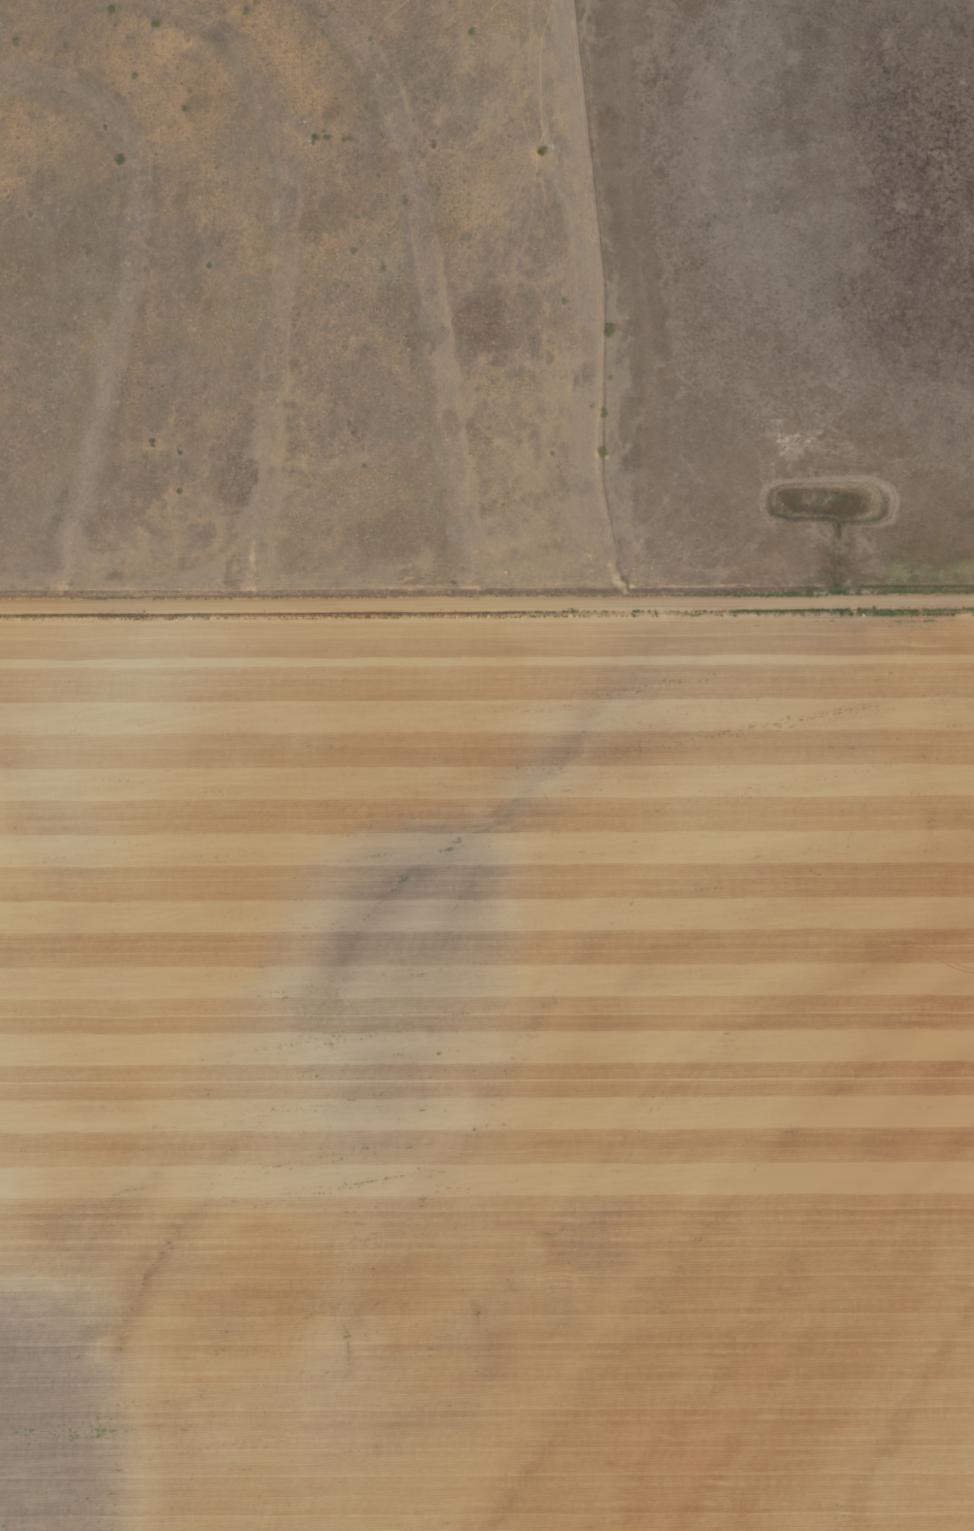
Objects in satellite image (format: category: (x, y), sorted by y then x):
road: (486, 601)

